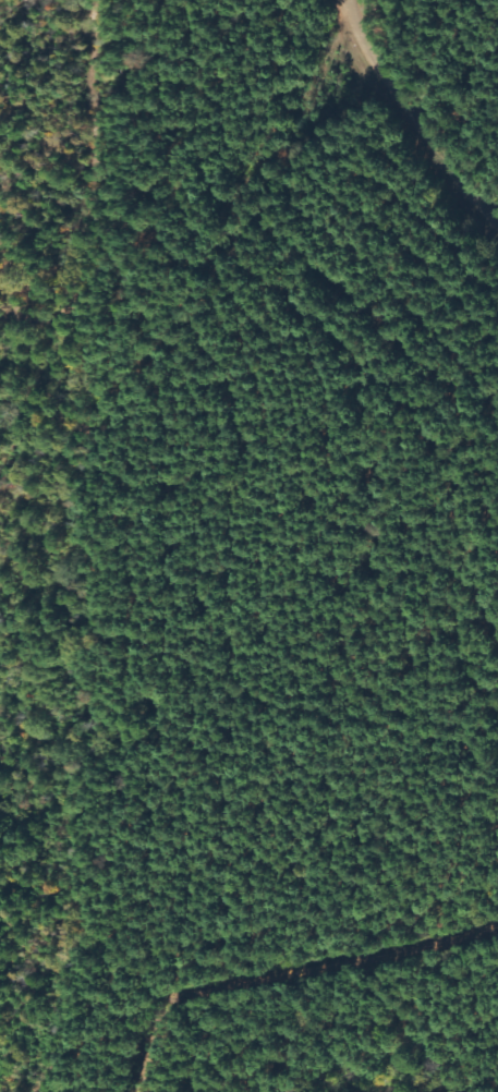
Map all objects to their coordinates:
road: (413, 120)
road: (253, 422)
road: (11, 442)
road: (168, 962)

